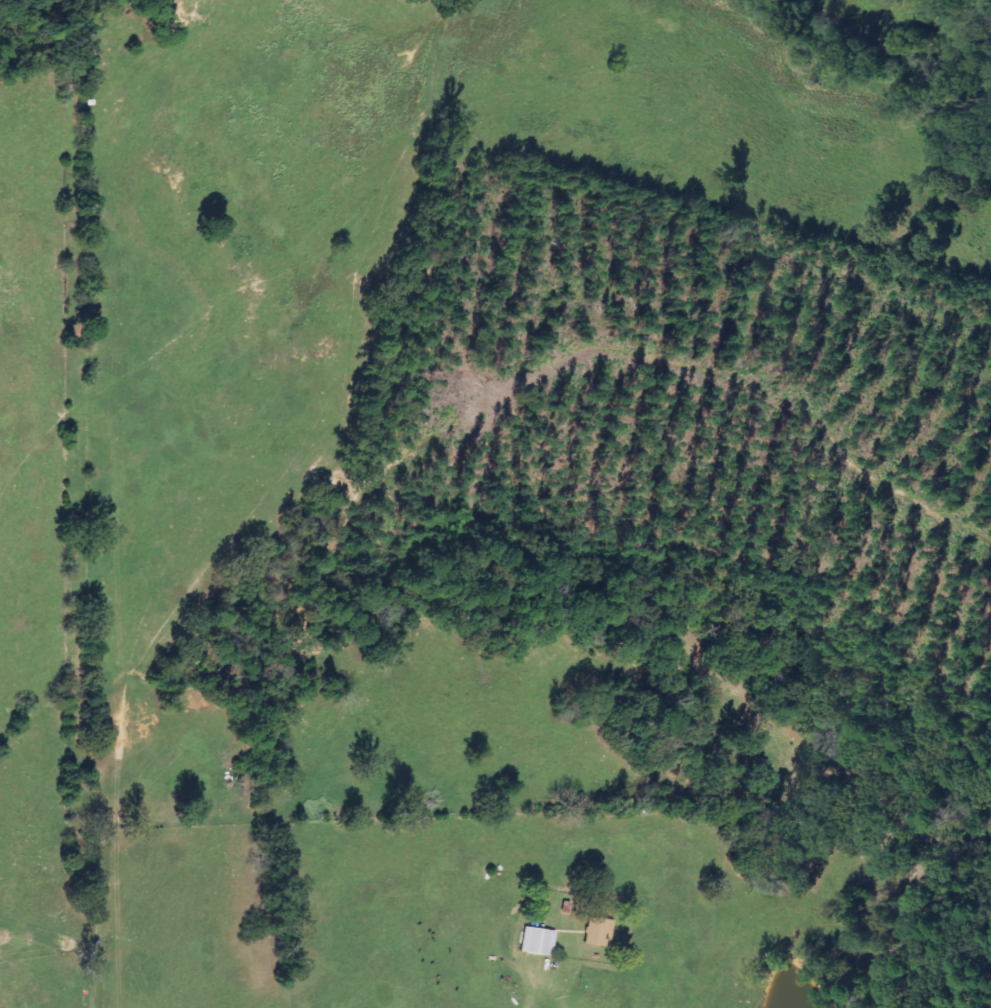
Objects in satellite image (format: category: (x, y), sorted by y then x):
building: (597, 933)
building: (537, 942)

